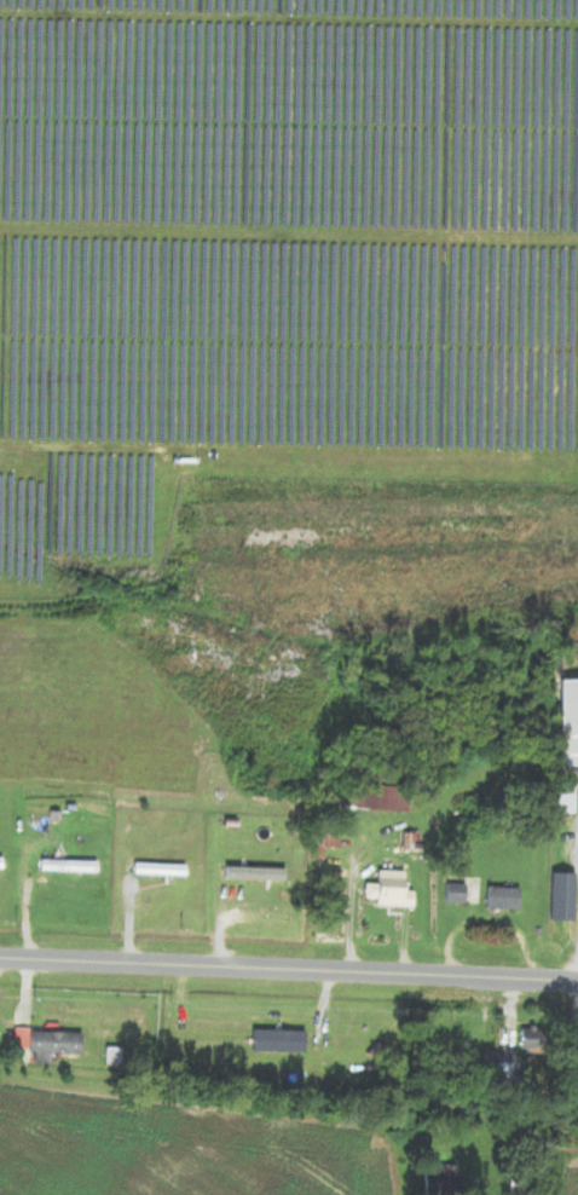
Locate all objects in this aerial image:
solar farm: (276, 259)
building: (570, 723)
building: (377, 793)
building: (320, 845)
building: (1, 862)
building: (70, 866)
building: (161, 870)
building: (255, 873)
building: (392, 890)
building: (504, 899)
road: (288, 971)
building: (279, 1043)
building: (48, 1045)
building: (505, 1075)

